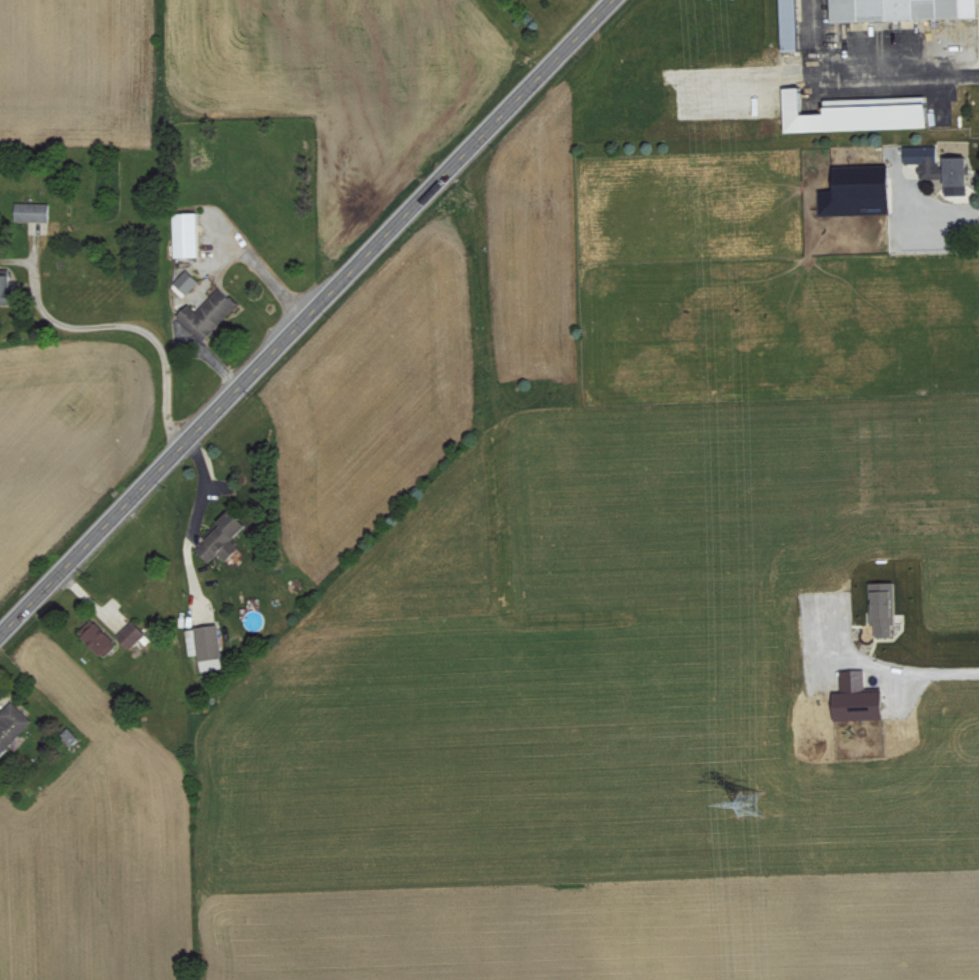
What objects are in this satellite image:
building: (904, 9)
building: (793, 25)
road: (863, 76)
building: (859, 113)
building: (943, 168)
building: (859, 191)
building: (33, 210)
building: (188, 234)
building: (186, 282)
building: (6, 285)
building: (209, 313)
road: (306, 317)
road: (145, 328)
building: (223, 536)
building: (886, 606)
building: (132, 633)
building: (99, 636)
road: (910, 671)
building: (860, 697)
building: (13, 724)
building: (70, 735)
power tower: (754, 807)

